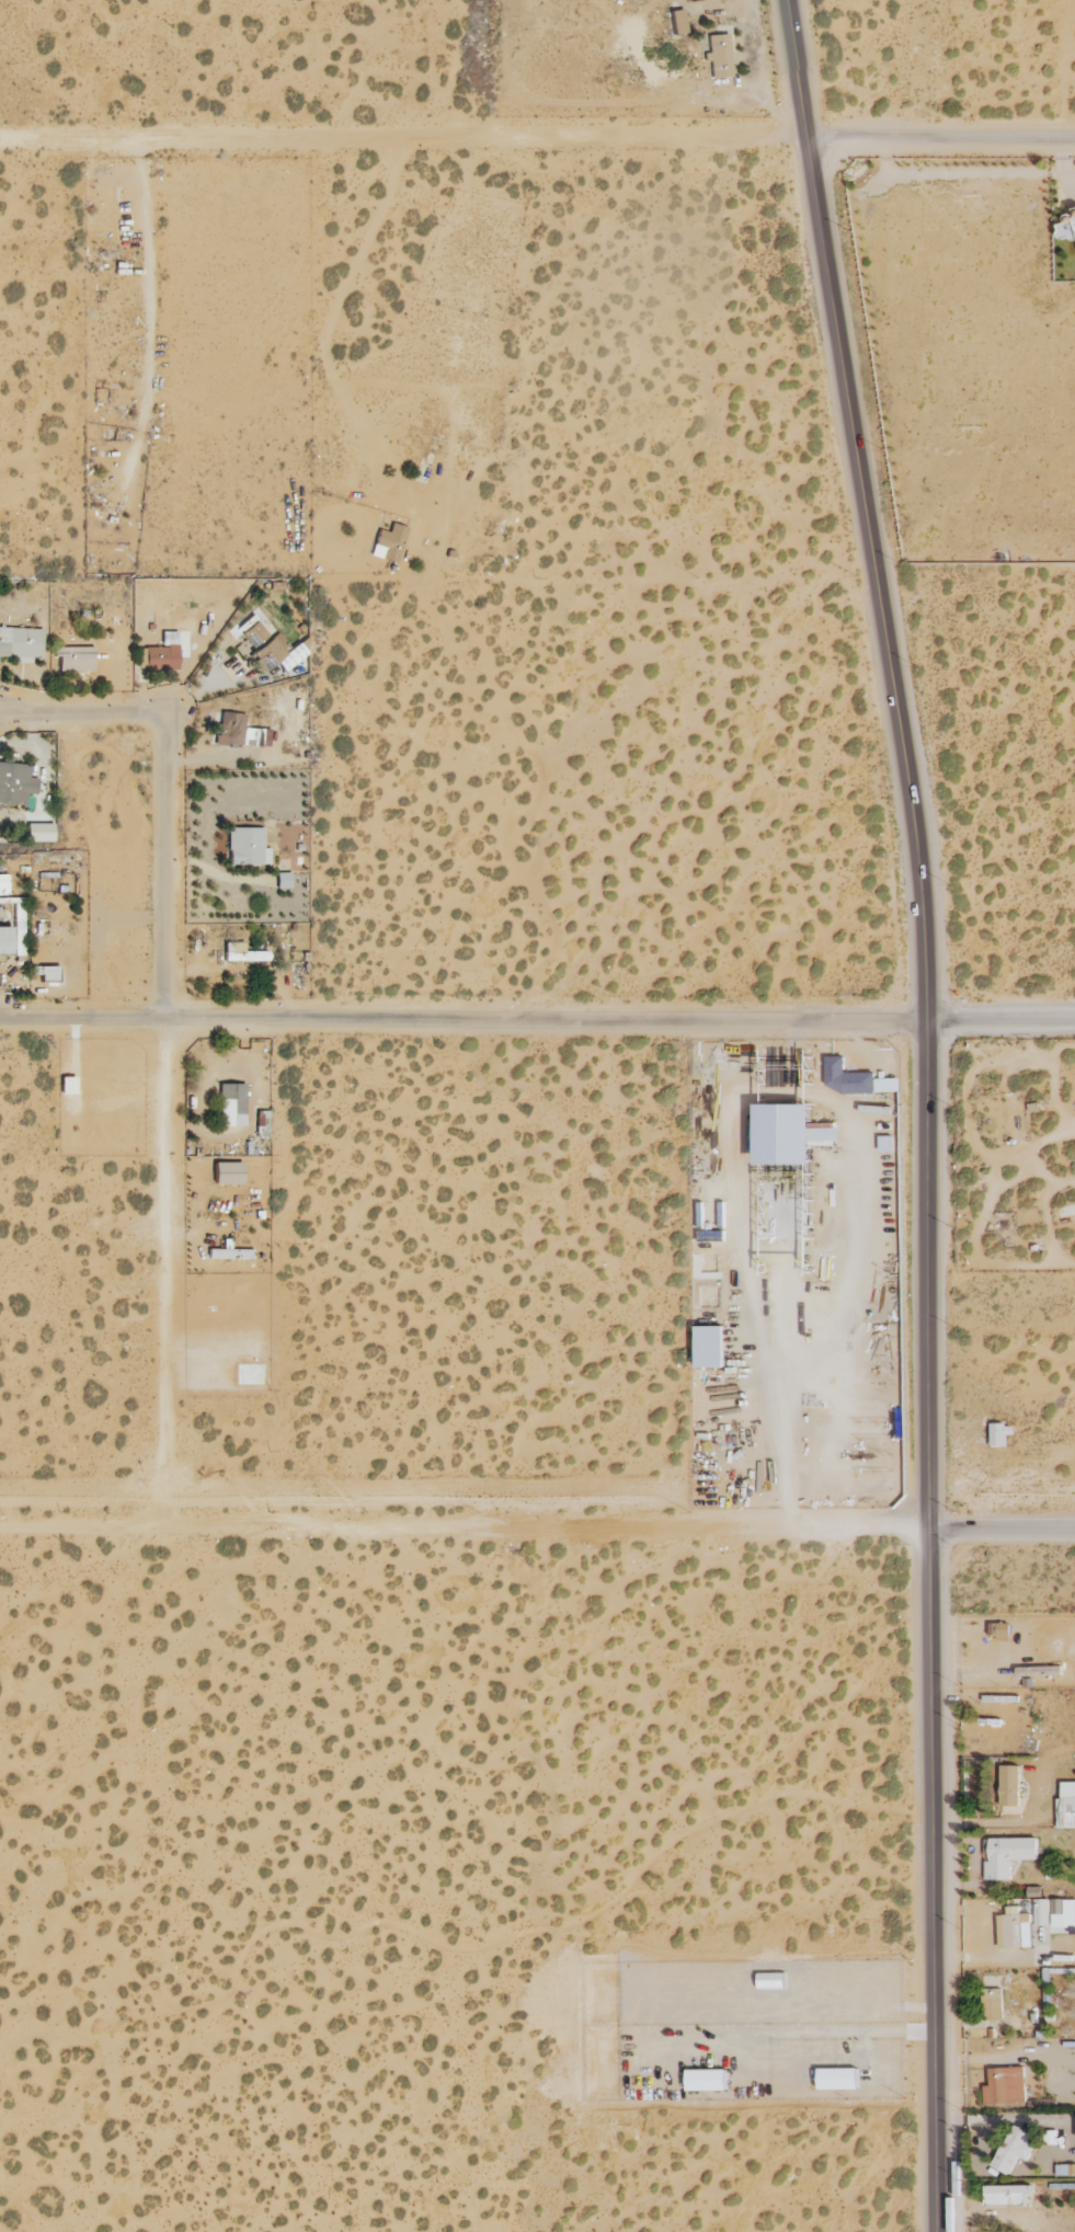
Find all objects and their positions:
building: (676, 22)
building: (717, 56)
road: (537, 137)
building: (1074, 209)
building: (1066, 228)
building: (388, 543)
building: (20, 643)
building: (267, 650)
building: (162, 653)
building: (73, 659)
building: (238, 732)
building: (14, 783)
building: (38, 833)
building: (245, 847)
building: (282, 881)
building: (2, 885)
building: (16, 927)
building: (4, 941)
building: (241, 953)
building: (45, 973)
road: (537, 1019)
road: (168, 1031)
building: (883, 1085)
building: (230, 1104)
road: (928, 1110)
building: (791, 1134)
building: (226, 1174)
building: (229, 1254)
building: (999, 1433)
road: (84, 1527)
road: (621, 1527)
building: (1039, 1671)
building: (1009, 1785)
building: (1066, 1806)
road: (1000, 1821)
building: (1008, 1855)
building: (1041, 1912)
building: (1063, 1913)
building: (1011, 1928)
building: (992, 2004)
building: (1005, 2086)
building: (1014, 2149)
building: (1065, 2170)
building: (1006, 2195)

